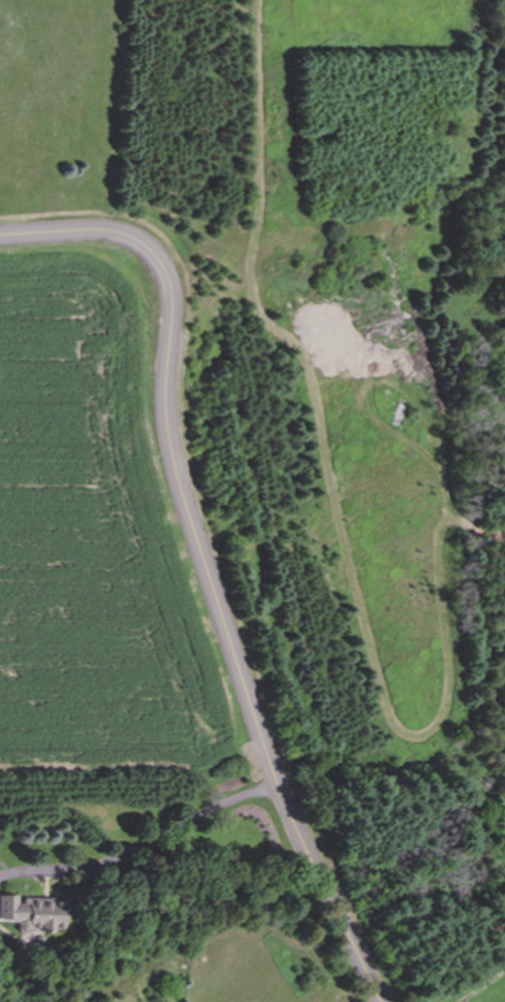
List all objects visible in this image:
crop: (99, 551)
road: (202, 560)
road: (148, 840)
building: (34, 913)
road: (479, 985)

